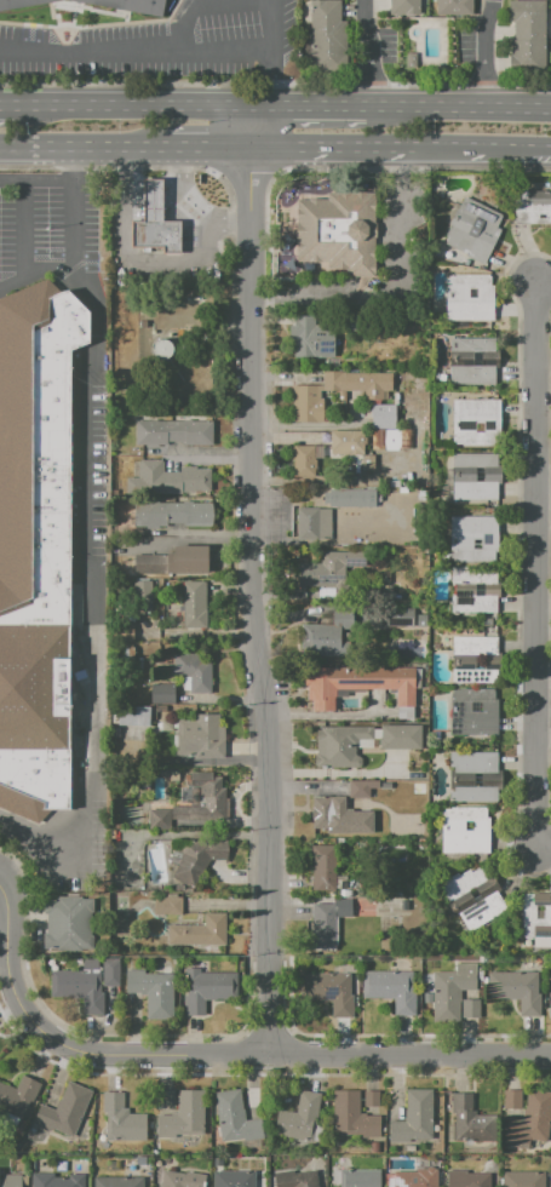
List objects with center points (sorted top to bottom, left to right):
building: (63, 1)
building: (19, 4)
building: (131, 6)
building: (407, 6)
building: (453, 7)
building: (527, 33)
building: (323, 35)
road: (138, 51)
road: (222, 51)
road: (270, 52)
road: (367, 52)
road: (484, 52)
road: (7, 103)
road: (132, 103)
road: (322, 104)
road: (473, 105)
road: (79, 148)
road: (202, 149)
road: (302, 150)
road: (401, 151)
road: (499, 153)
road: (75, 164)
road: (125, 165)
road: (184, 166)
road: (154, 183)
road: (125, 196)
road: (154, 196)
building: (156, 201)
gas station: (156, 201)
building: (530, 206)
road: (154, 212)
road: (184, 213)
parking lot: (47, 228)
road: (24, 229)
building: (472, 229)
road: (229, 231)
building: (338, 231)
building: (161, 237)
road: (153, 263)
road: (36, 274)
road: (544, 281)
road: (390, 292)
building: (469, 297)
building: (354, 321)
building: (310, 338)
storage tank: (160, 348)
building: (161, 348)
building: (473, 360)
building: (357, 390)
building: (306, 405)
building: (383, 415)
building: (476, 422)
building: (193, 430)
building: (154, 432)
building: (375, 455)
building: (302, 461)
building: (475, 476)
building: (153, 478)
building: (193, 480)
road: (544, 495)
building: (345, 498)
building: (191, 514)
building: (153, 515)
road: (84, 517)
building: (310, 523)
building: (471, 539)
road: (184, 540)
building: (35, 546)
building: (189, 560)
building: (153, 564)
road: (536, 564)
building: (328, 568)
road: (251, 581)
building: (384, 587)
building: (473, 590)
building: (142, 595)
building: (196, 604)
building: (352, 630)
building: (121, 633)
building: (417, 641)
building: (404, 642)
building: (437, 644)
building: (475, 659)
building: (193, 672)
building: (185, 683)
building: (357, 684)
building: (162, 694)
building: (472, 712)
road: (326, 715)
road: (544, 715)
building: (132, 716)
building: (401, 738)
building: (199, 739)
building: (339, 746)
road: (335, 773)
building: (472, 776)
building: (362, 789)
building: (196, 804)
building: (326, 812)
building: (349, 831)
building: (464, 831)
building: (338, 832)
building: (386, 833)
road: (544, 849)
parking lot: (58, 851)
building: (197, 860)
building: (321, 866)
building: (398, 894)
building: (472, 896)
building: (166, 906)
building: (69, 910)
building: (534, 914)
building: (327, 923)
building: (199, 931)
building: (67, 936)
building: (341, 969)
building: (110, 973)
building: (480, 973)
building: (429, 982)
building: (79, 988)
building: (203, 990)
building: (153, 991)
building: (390, 991)
building: (452, 991)
building: (516, 991)
building: (327, 992)
building: (429, 997)
building: (550, 1008)
building: (470, 1009)
road: (214, 1059)
building: (17, 1097)
building: (162, 1100)
building: (371, 1100)
building: (511, 1100)
building: (64, 1111)
building: (414, 1117)
building: (121, 1118)
building: (183, 1118)
building: (234, 1118)
building: (351, 1118)
building: (299, 1119)
building: (467, 1120)
building: (530, 1120)
building: (374, 1147)
building: (409, 1147)
building: (218, 1162)
building: (159, 1163)
building: (111, 1165)
building: (335, 1176)
building: (360, 1177)
building: (235, 1179)
building: (297, 1179)
building: (417, 1179)
building: (469, 1179)
building: (180, 1180)
building: (523, 1180)
building: (54, 1181)
building: (10, 1182)
building: (117, 1182)

